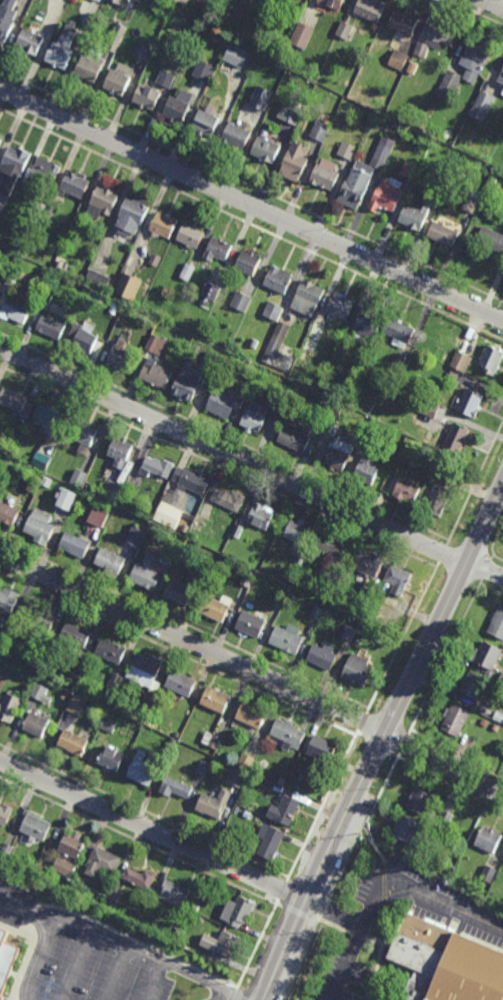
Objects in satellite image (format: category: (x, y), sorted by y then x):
building: (98, 0)
building: (113, 1)
building: (184, 1)
building: (334, 3)
road: (495, 3)
building: (372, 8)
building: (7, 19)
building: (403, 21)
building: (85, 28)
building: (345, 29)
building: (259, 30)
building: (302, 34)
building: (435, 38)
building: (115, 40)
building: (30, 41)
building: (62, 49)
building: (143, 50)
building: (237, 55)
building: (475, 57)
building: (398, 59)
building: (176, 65)
building: (89, 68)
building: (204, 71)
building: (119, 78)
building: (166, 78)
building: (501, 79)
building: (448, 85)
building: (502, 93)
building: (147, 96)
building: (262, 97)
building: (481, 104)
building: (179, 106)
building: (290, 113)
building: (206, 123)
building: (396, 126)
building: (321, 127)
building: (236, 135)
building: (1, 140)
building: (266, 150)
building: (348, 151)
building: (383, 153)
building: (295, 162)
building: (13, 168)
building: (408, 169)
building: (45, 174)
building: (325, 177)
building: (493, 180)
building: (443, 182)
building: (357, 184)
building: (74, 185)
building: (386, 195)
building: (104, 199)
road: (251, 204)
building: (471, 204)
building: (48, 210)
building: (133, 215)
building: (414, 216)
building: (163, 226)
building: (442, 233)
building: (191, 236)
building: (490, 239)
building: (219, 249)
building: (155, 260)
building: (248, 263)
building: (59, 265)
building: (188, 272)
building: (97, 280)
building: (279, 280)
building: (0, 283)
building: (9, 286)
building: (128, 287)
building: (210, 293)
building: (308, 298)
building: (45, 301)
building: (242, 302)
building: (340, 308)
building: (126, 309)
building: (273, 310)
building: (16, 311)
building: (367, 324)
building: (51, 327)
building: (399, 332)
building: (314, 339)
building: (81, 340)
building: (253, 343)
building: (157, 346)
building: (278, 350)
building: (343, 350)
building: (121, 354)
building: (491, 359)
building: (217, 360)
building: (461, 360)
building: (399, 361)
building: (156, 375)
building: (451, 375)
building: (188, 385)
building: (292, 386)
building: (303, 391)
building: (15, 402)
building: (279, 402)
building: (469, 402)
building: (225, 405)
building: (430, 409)
building: (338, 410)
building: (46, 418)
building: (255, 418)
building: (332, 427)
building: (85, 434)
building: (296, 437)
building: (456, 438)
building: (363, 442)
building: (372, 442)
building: (121, 449)
building: (339, 453)
building: (444, 454)
building: (42, 459)
building: (413, 462)
building: (157, 464)
road: (250, 464)
building: (1, 467)
building: (367, 468)
building: (79, 477)
building: (191, 478)
building: (47, 481)
building: (132, 483)
road: (475, 483)
building: (113, 489)
building: (406, 490)
building: (439, 494)
building: (67, 497)
building: (229, 497)
building: (8, 513)
building: (261, 514)
building: (98, 515)
building: (167, 516)
building: (40, 525)
building: (185, 527)
building: (238, 530)
building: (298, 530)
building: (158, 531)
building: (135, 536)
building: (75, 543)
road: (494, 543)
building: (332, 544)
building: (219, 546)
building: (170, 557)
building: (300, 559)
building: (110, 560)
building: (367, 562)
building: (206, 569)
building: (146, 571)
building: (248, 578)
building: (398, 578)
building: (178, 591)
building: (281, 595)
building: (365, 595)
building: (7, 603)
building: (217, 606)
building: (316, 612)
building: (371, 616)
building: (38, 620)
building: (250, 623)
building: (497, 623)
building: (367, 627)
building: (348, 632)
building: (76, 633)
building: (5, 637)
building: (288, 638)
road: (402, 638)
building: (39, 648)
building: (110, 649)
building: (487, 654)
road: (181, 655)
building: (323, 655)
road: (447, 657)
building: (78, 662)
building: (9, 663)
building: (358, 668)
building: (145, 669)
road: (253, 670)
building: (501, 678)
building: (114, 680)
building: (181, 682)
building: (473, 685)
building: (39, 691)
building: (0, 694)
building: (65, 695)
building: (216, 699)
building: (76, 704)
building: (113, 704)
building: (10, 706)
building: (251, 714)
building: (498, 716)
building: (454, 719)
road: (361, 722)
building: (484, 722)
building: (37, 723)
building: (109, 724)
building: (495, 727)
building: (288, 732)
road: (381, 737)
building: (212, 739)
building: (73, 742)
building: (172, 742)
road: (405, 742)
road: (378, 745)
building: (322, 748)
building: (190, 751)
building: (111, 757)
building: (247, 761)
building: (203, 767)
building: (142, 768)
building: (240, 778)
building: (253, 779)
building: (282, 780)
road: (448, 783)
road: (382, 786)
building: (176, 787)
building: (418, 800)
building: (214, 803)
road: (322, 806)
building: (285, 810)
building: (5, 814)
building: (445, 819)
building: (35, 827)
building: (409, 829)
road: (152, 830)
building: (487, 839)
building: (270, 841)
road: (141, 842)
building: (72, 844)
building: (102, 861)
building: (64, 866)
building: (488, 875)
building: (140, 878)
building: (76, 883)
road: (281, 891)
building: (174, 893)
road: (389, 895)
building: (114, 896)
building: (193, 907)
building: (240, 912)
road: (298, 913)
road: (334, 913)
road: (87, 925)
road: (332, 926)
building: (0, 933)
building: (179, 936)
road: (358, 936)
road: (378, 941)
building: (223, 943)
road: (257, 945)
road: (43, 955)
building: (446, 963)
road: (364, 979)
road: (206, 981)
road: (238, 999)
road: (244, 999)

